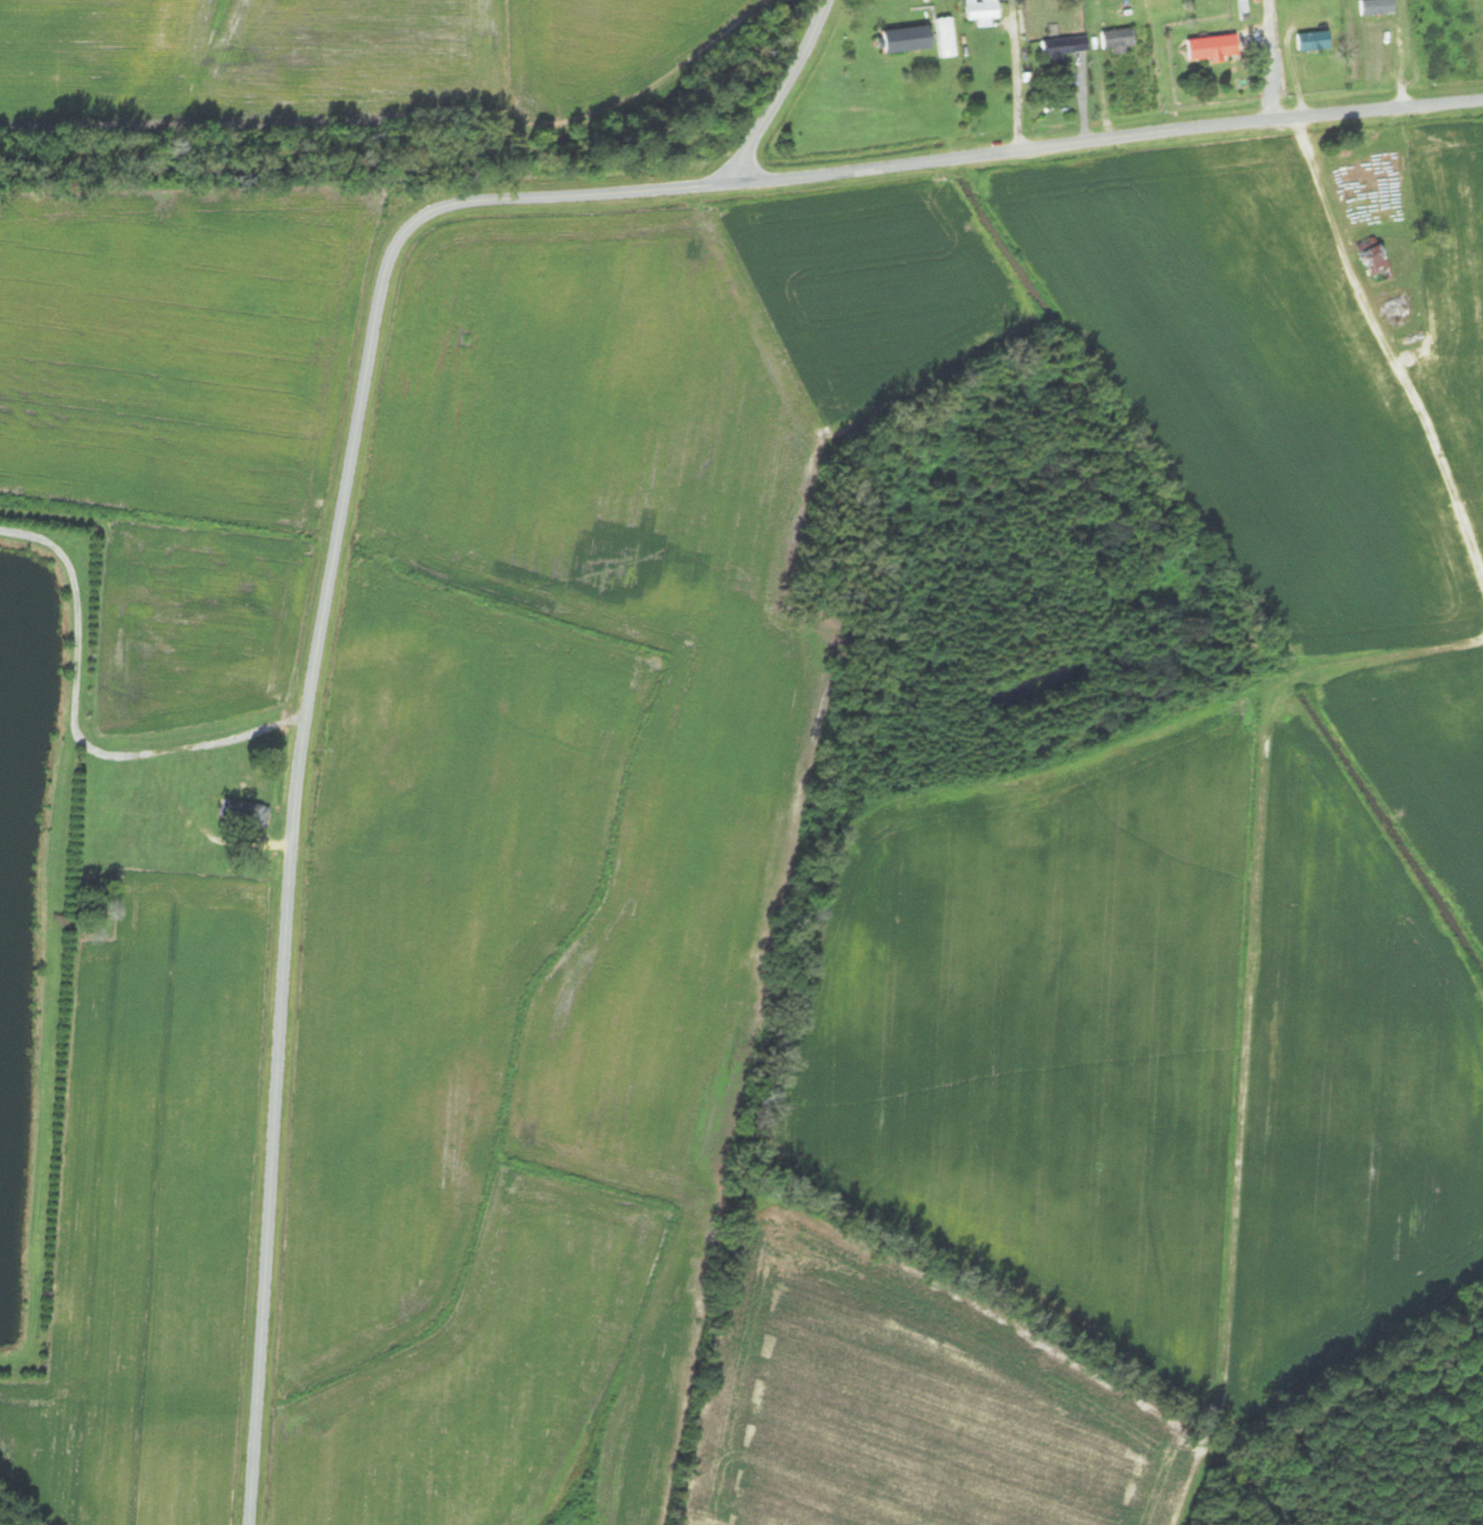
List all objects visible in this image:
building: (1376, 7)
building: (983, 10)
building: (1117, 39)
building: (907, 40)
building: (1314, 41)
building: (1063, 46)
building: (1219, 51)
road: (777, 93)
building: (1377, 264)
road: (338, 322)
building: (243, 814)

